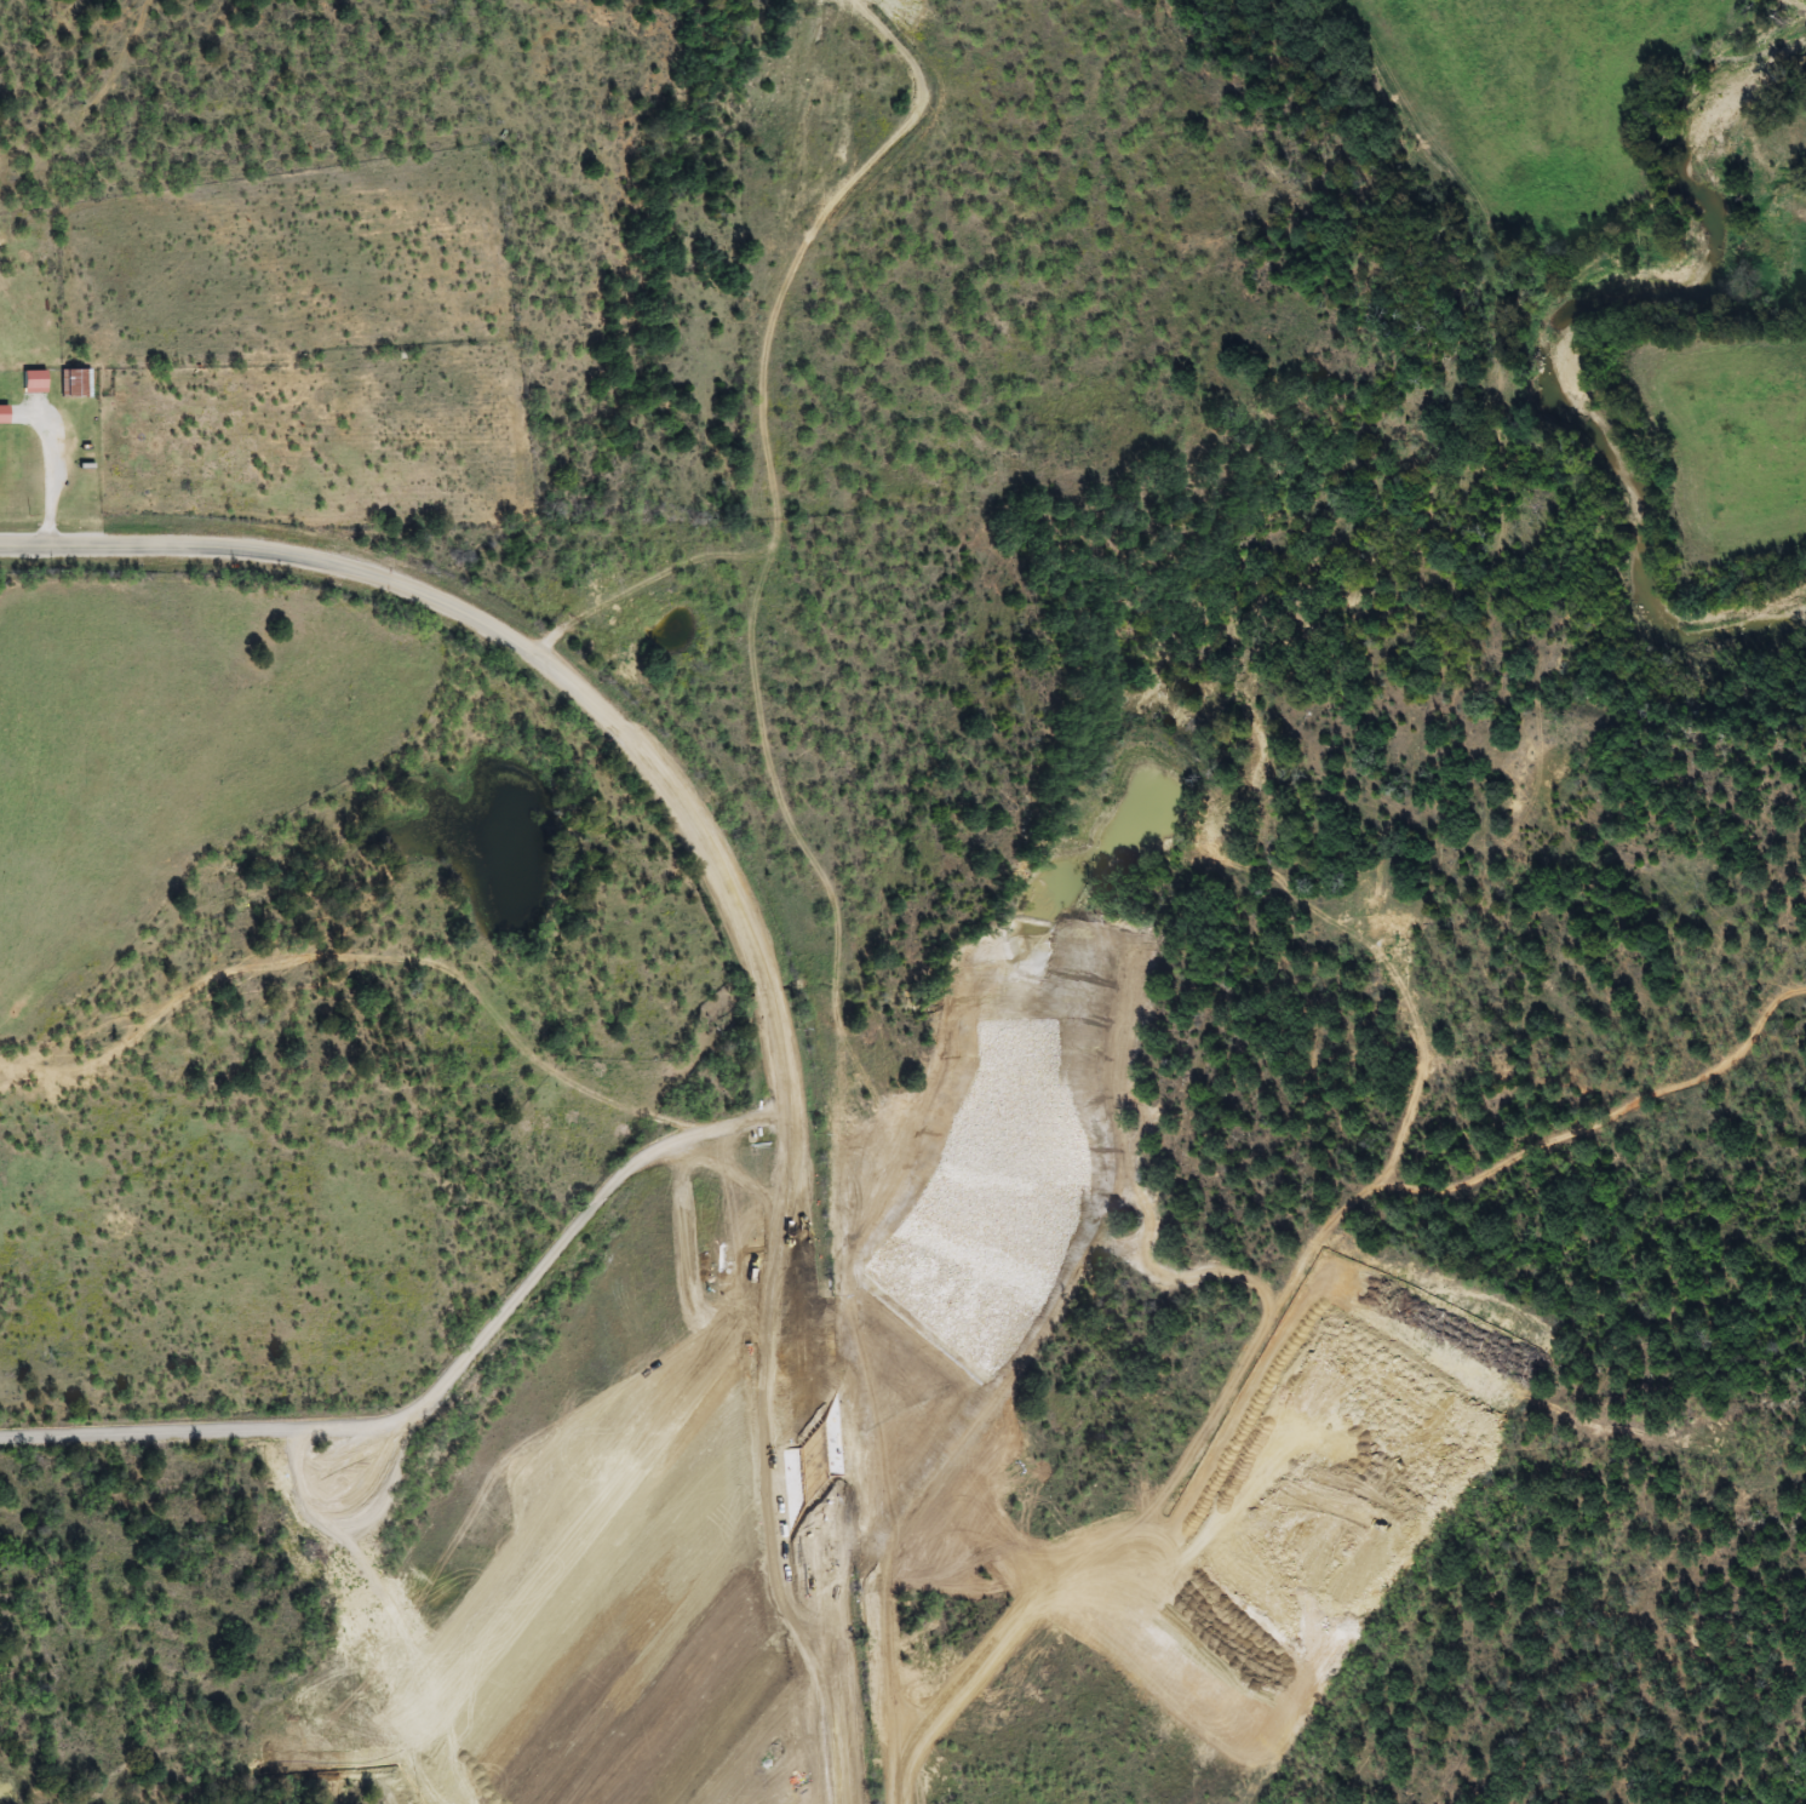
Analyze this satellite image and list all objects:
road: (773, 367)
building: (38, 382)
building: (78, 384)
road: (743, 917)
road: (442, 1386)

